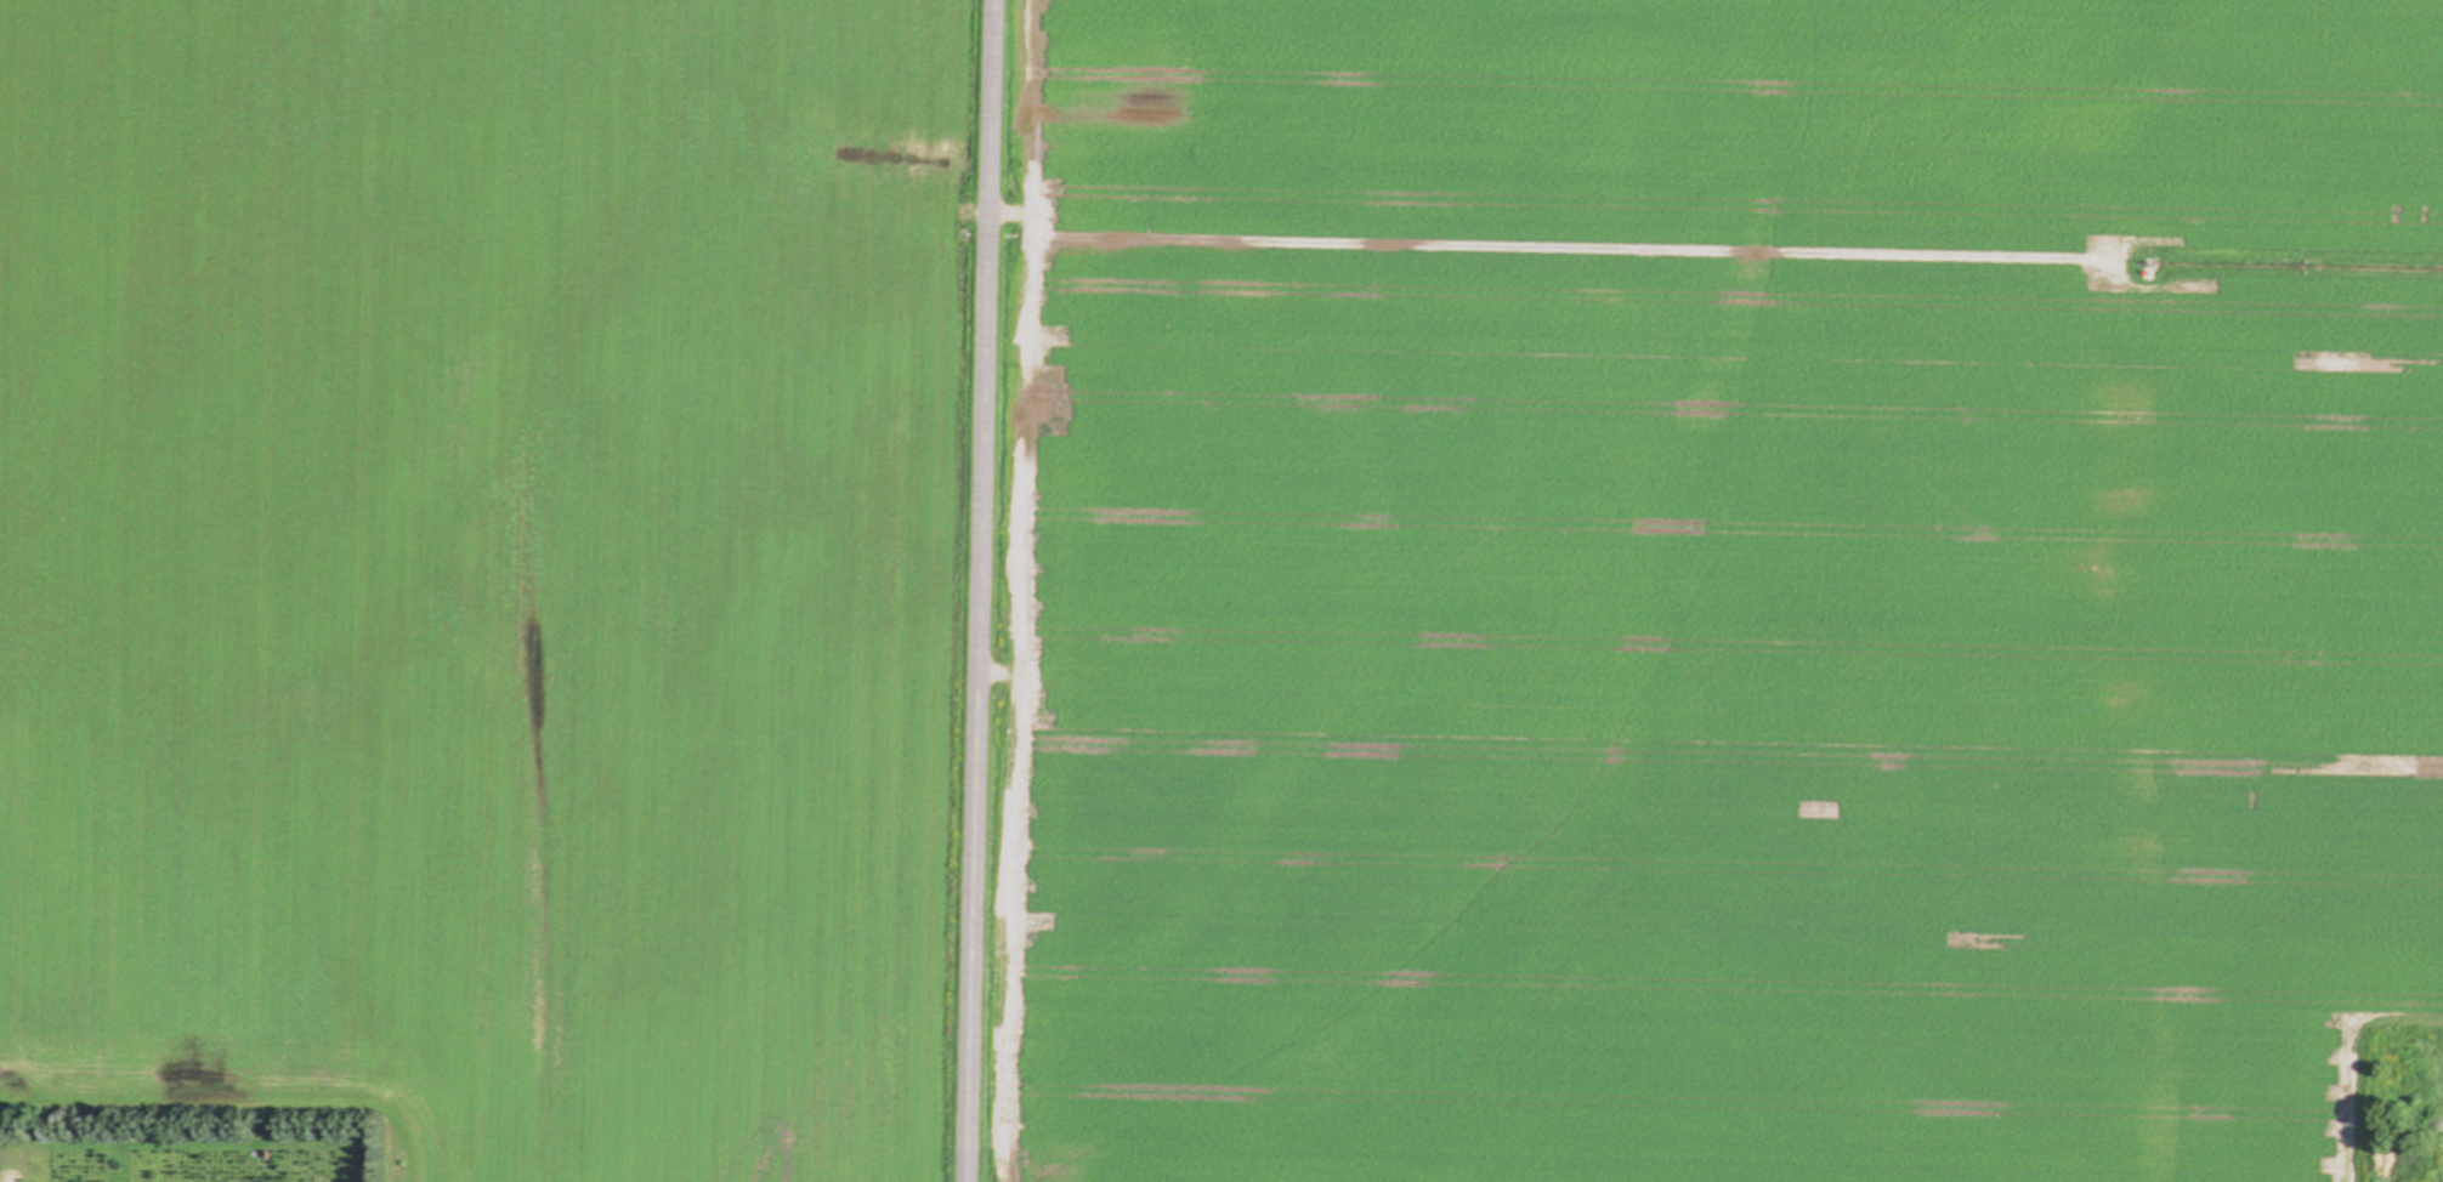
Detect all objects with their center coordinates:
road: (980, 591)

